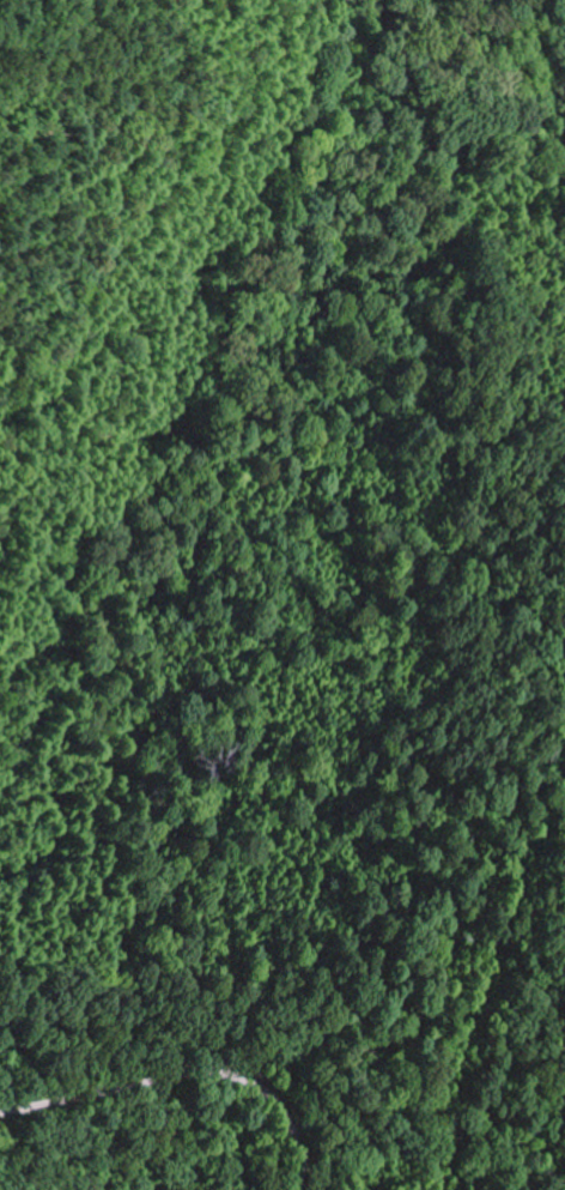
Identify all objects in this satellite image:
road: (141, 1080)
road: (326, 1135)
road: (290, 1141)

